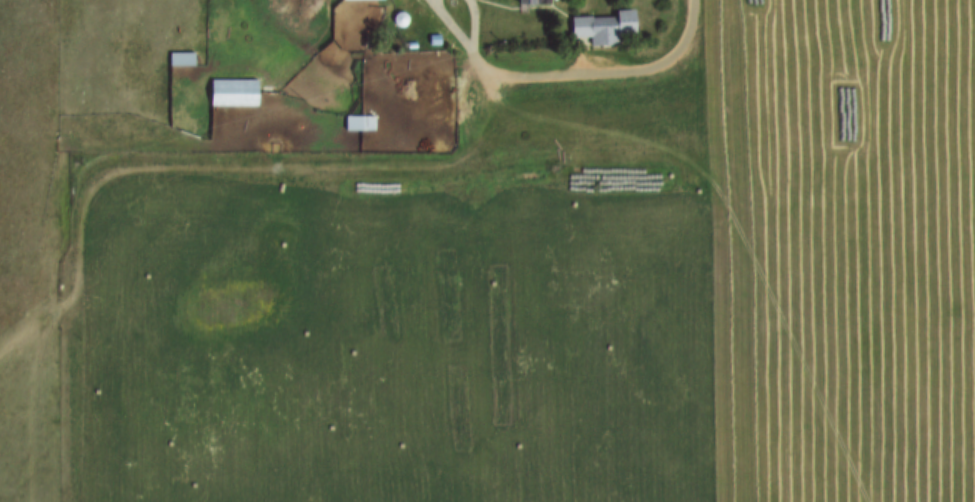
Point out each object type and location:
building: (531, 2)
building: (347, 5)
building: (600, 29)
road: (464, 46)
building: (178, 59)
road: (600, 77)
building: (230, 94)
building: (356, 125)
road: (219, 172)

